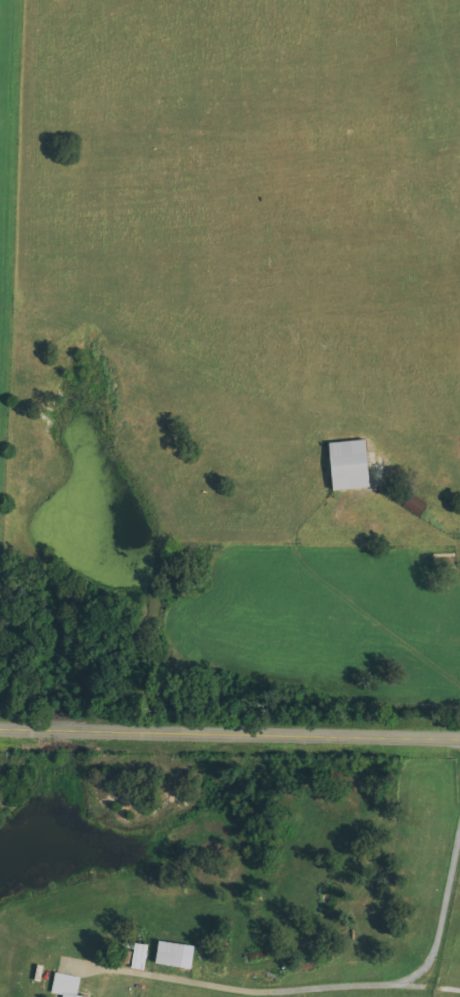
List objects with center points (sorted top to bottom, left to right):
road: (339, 106)
building: (348, 465)
road: (230, 725)
building: (174, 954)
building: (66, 985)

